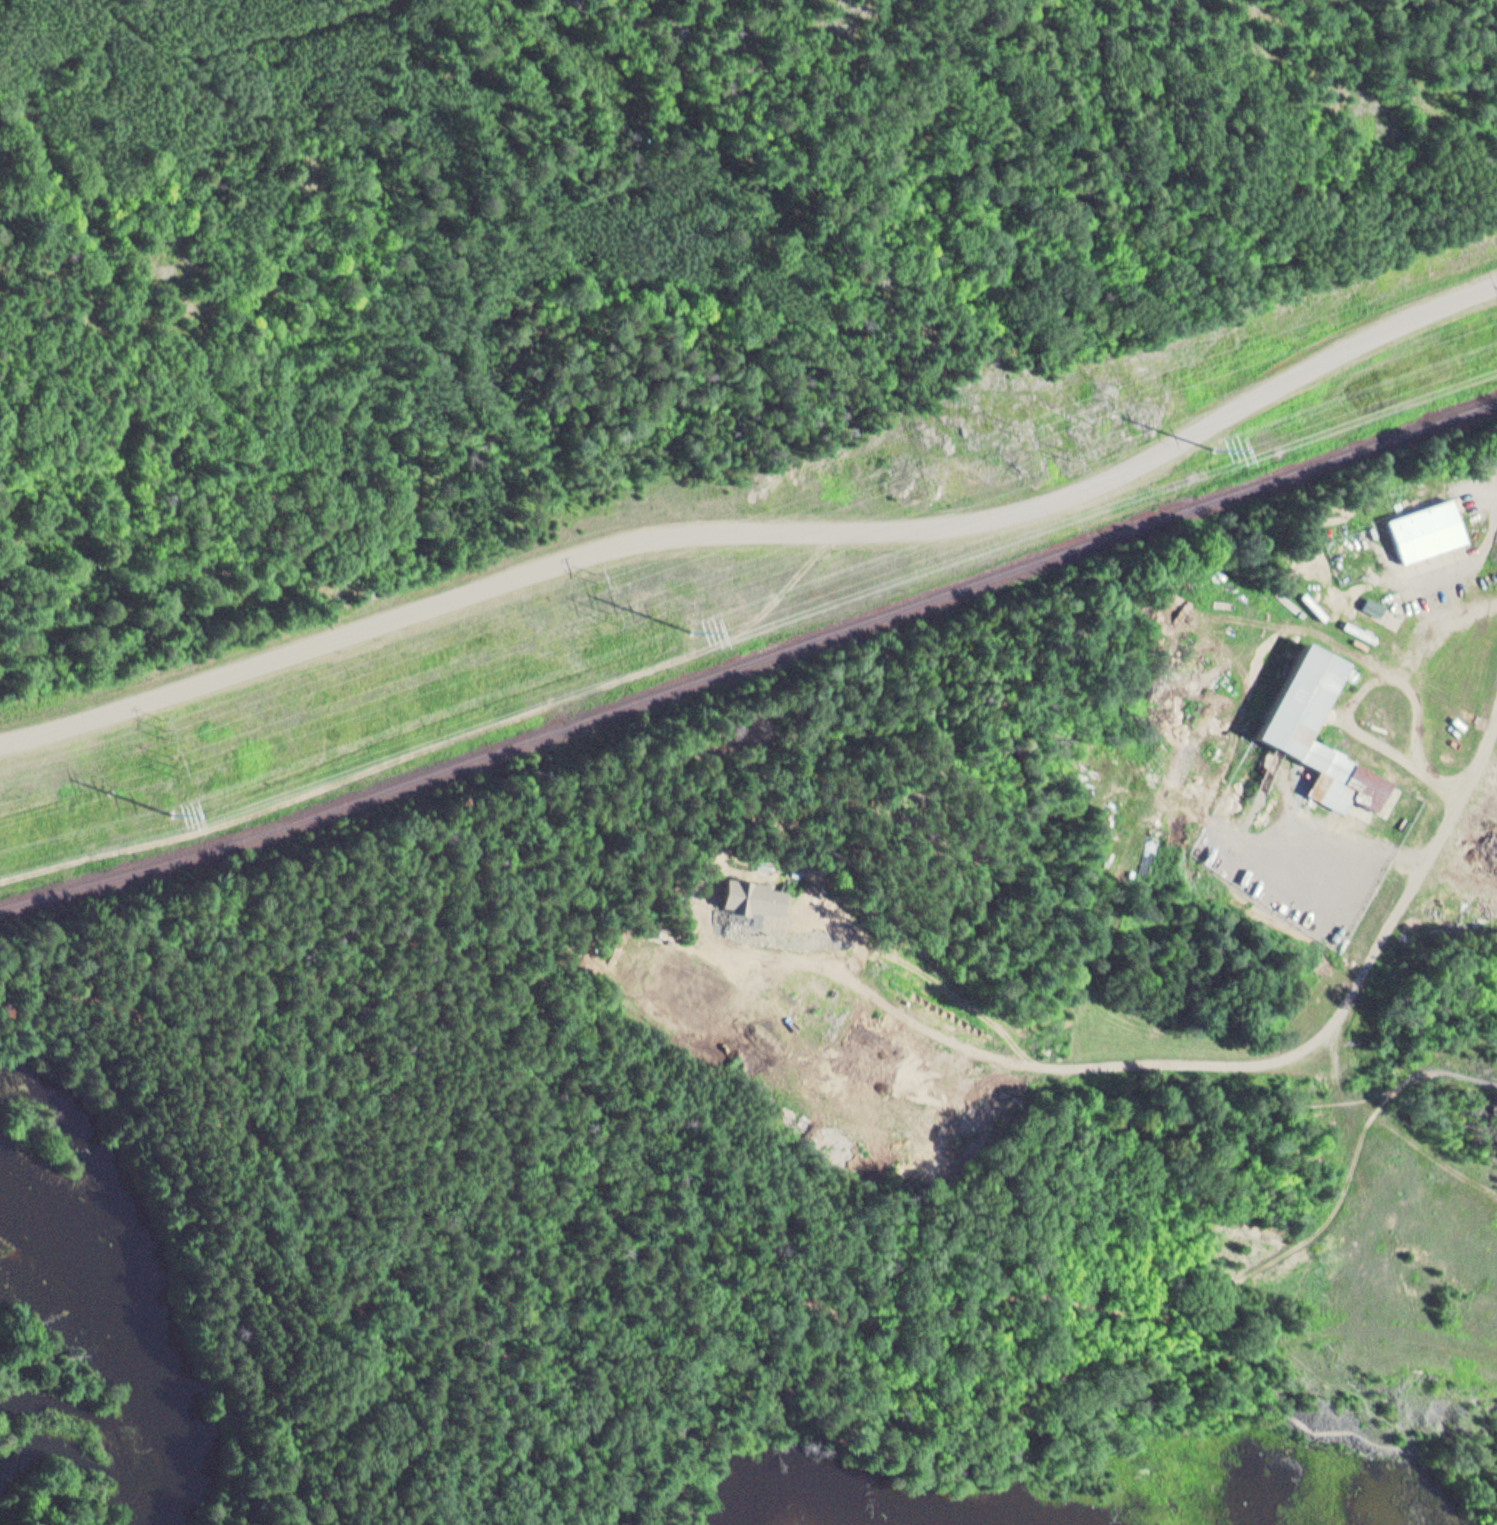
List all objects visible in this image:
power tower: (1022, 430)
power tower: (1218, 449)
power tower: (1074, 457)
building: (1419, 526)
road: (759, 529)
power tower: (601, 576)
building: (1367, 601)
power tower: (614, 613)
power tower: (698, 632)
railway: (751, 663)
building: (1287, 697)
power tower: (168, 728)
power tower: (185, 764)
power tower: (176, 812)
building: (754, 889)
road: (1264, 1057)
road: (1382, 1120)
road: (294, 1225)
road: (184, 1243)
road: (1119, 1309)
road: (1372, 1311)
road: (687, 1365)
road: (1181, 1369)
road: (780, 1388)
road: (585, 1429)
road: (1070, 1434)

